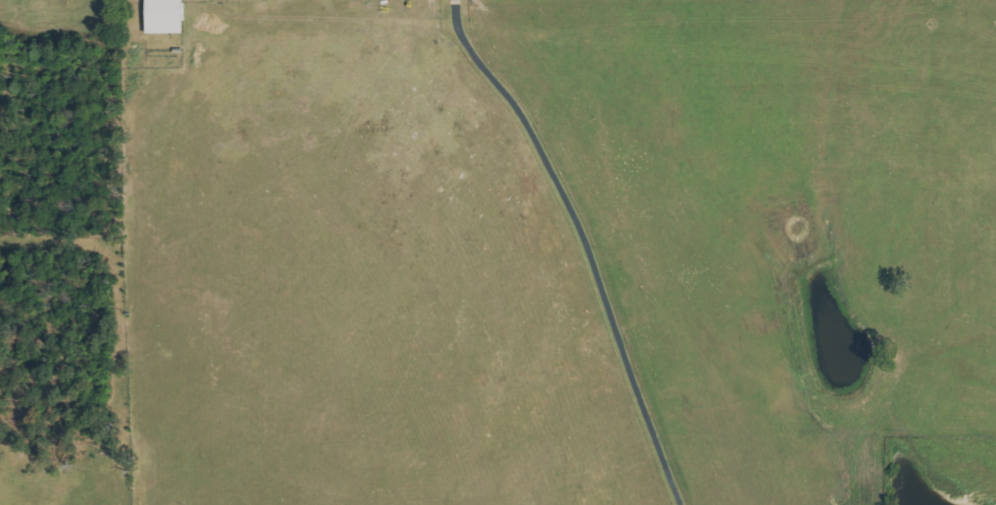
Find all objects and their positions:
building: (167, 16)
road: (593, 242)

